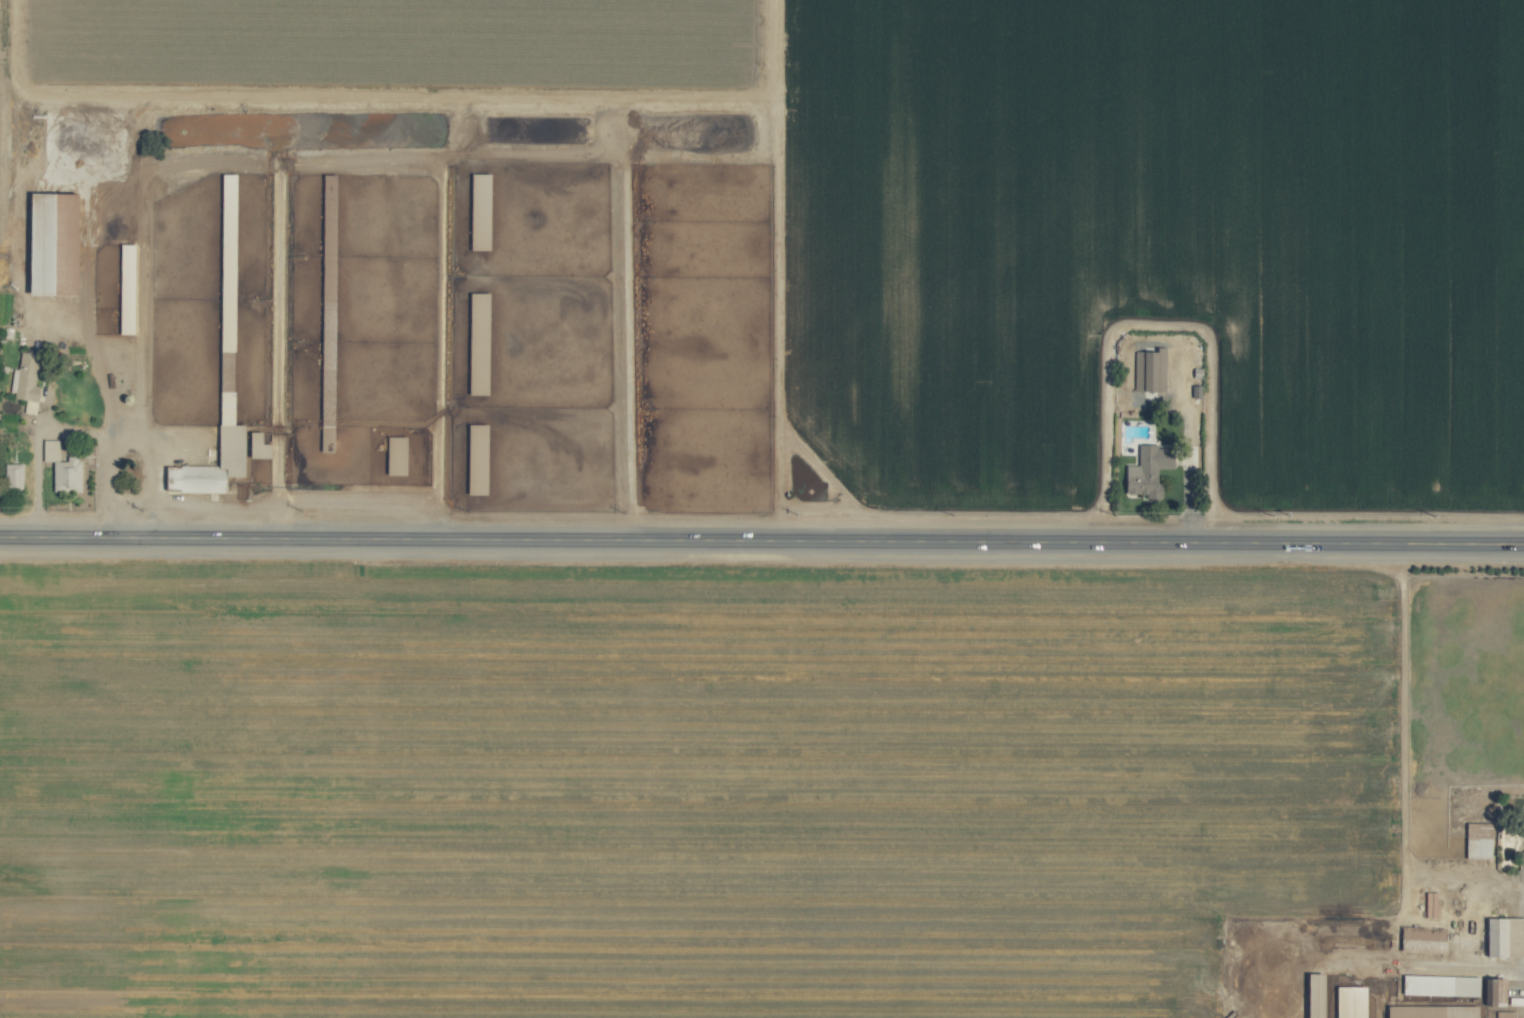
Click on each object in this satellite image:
road: (781, 270)
crop: (421, 303)
road: (104, 342)
building: (1147, 370)
road: (104, 440)
building: (235, 444)
building: (262, 446)
building: (64, 467)
building: (1151, 469)
building: (15, 476)
road: (40, 476)
crop: (762, 509)
road: (761, 540)
building: (1523, 837)
building: (1474, 847)
building: (1427, 904)
building: (1500, 936)
building: (1419, 939)
building: (1436, 985)
building: (1491, 989)
building: (1308, 995)
building: (1346, 1001)
building: (1501, 1014)

